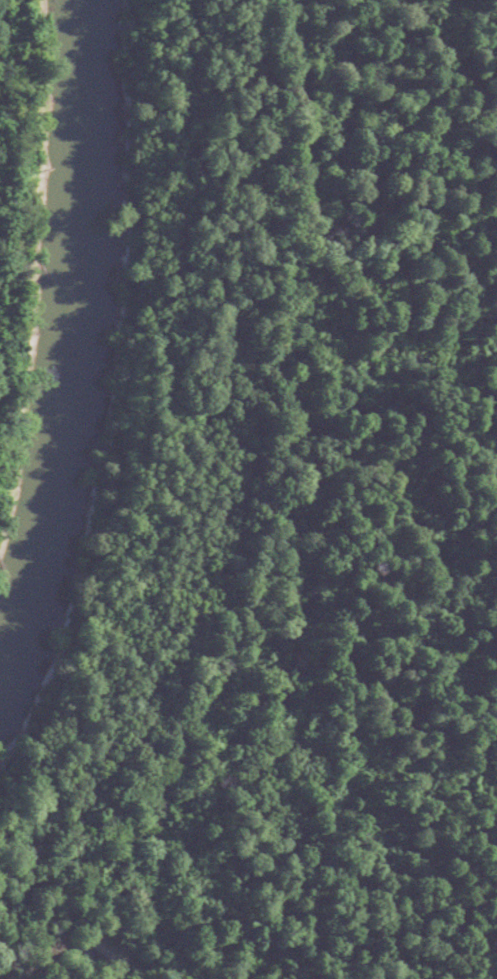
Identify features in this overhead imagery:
river: (65, 328)

